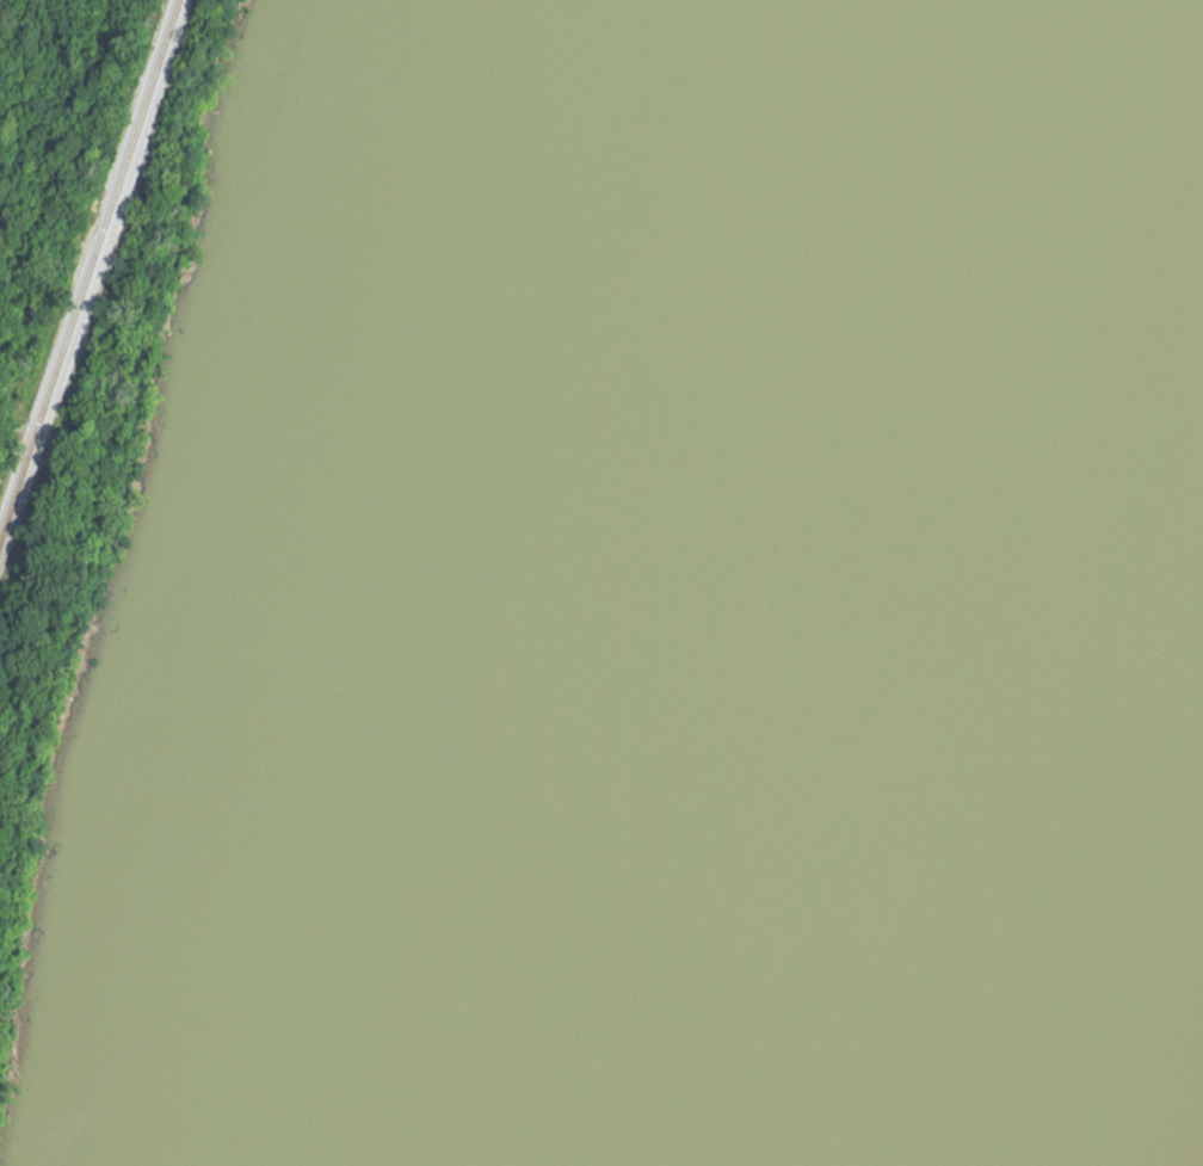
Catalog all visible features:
railway: (67, 190)
river: (690, 582)

